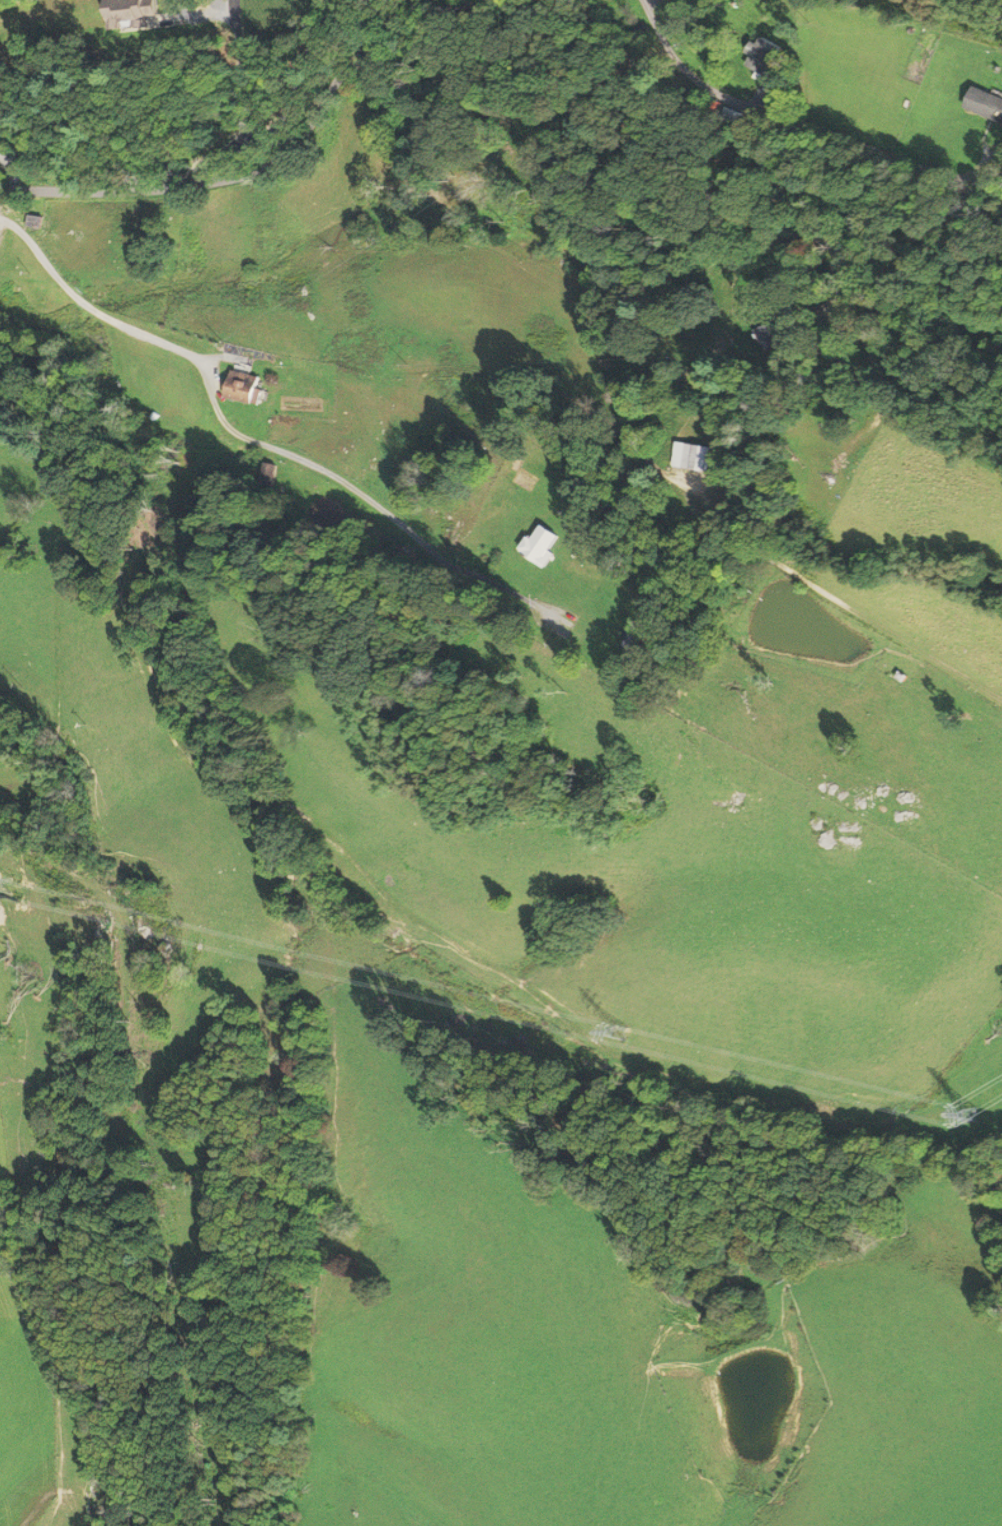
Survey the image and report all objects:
building: (764, 57)
building: (986, 104)
road: (234, 162)
road: (12, 168)
building: (35, 221)
building: (773, 333)
building: (245, 386)
road: (249, 440)
building: (696, 457)
building: (540, 545)
power tower: (6, 888)
power tower: (625, 1035)
power tower: (974, 1118)

